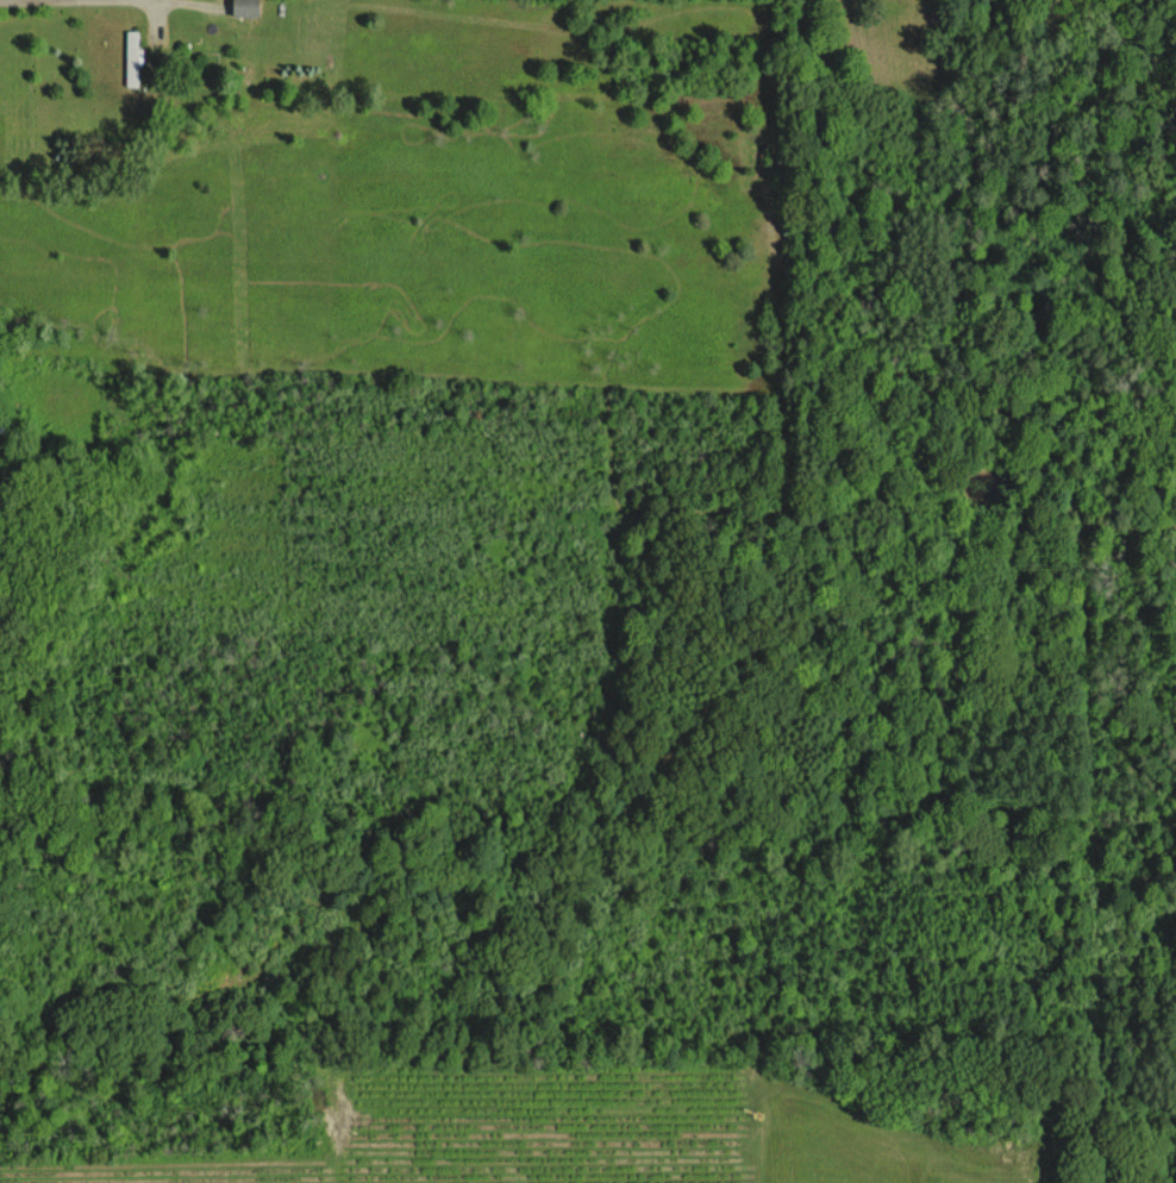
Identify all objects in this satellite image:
road: (20, 0)
building: (244, 7)
building: (133, 58)

